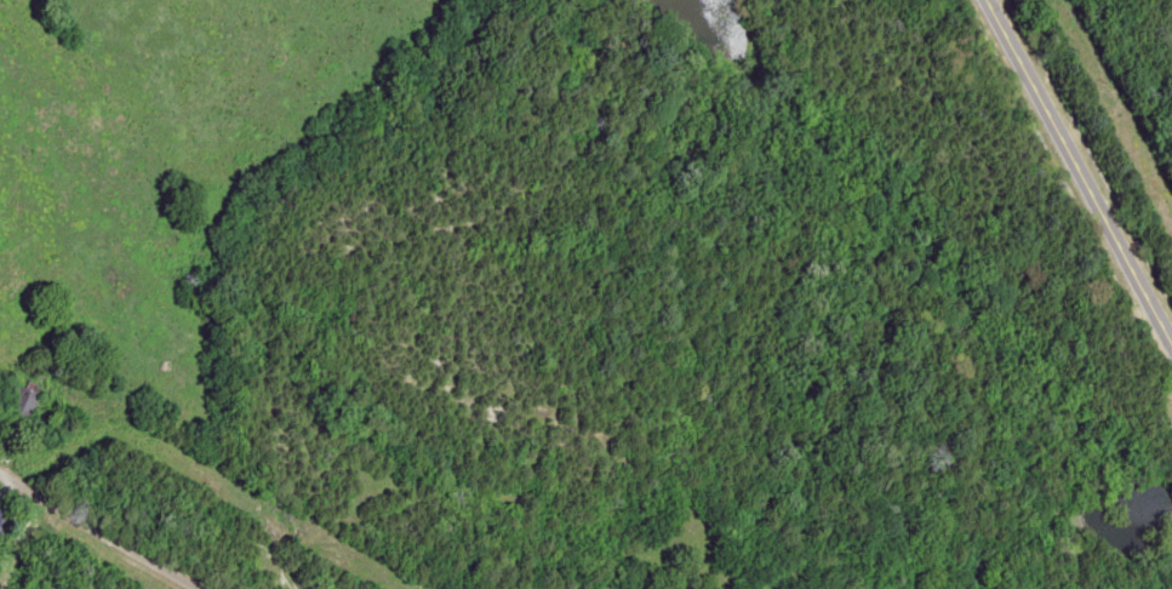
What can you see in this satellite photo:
road: (1062, 189)
building: (18, 400)
building: (4, 520)
road: (95, 532)

